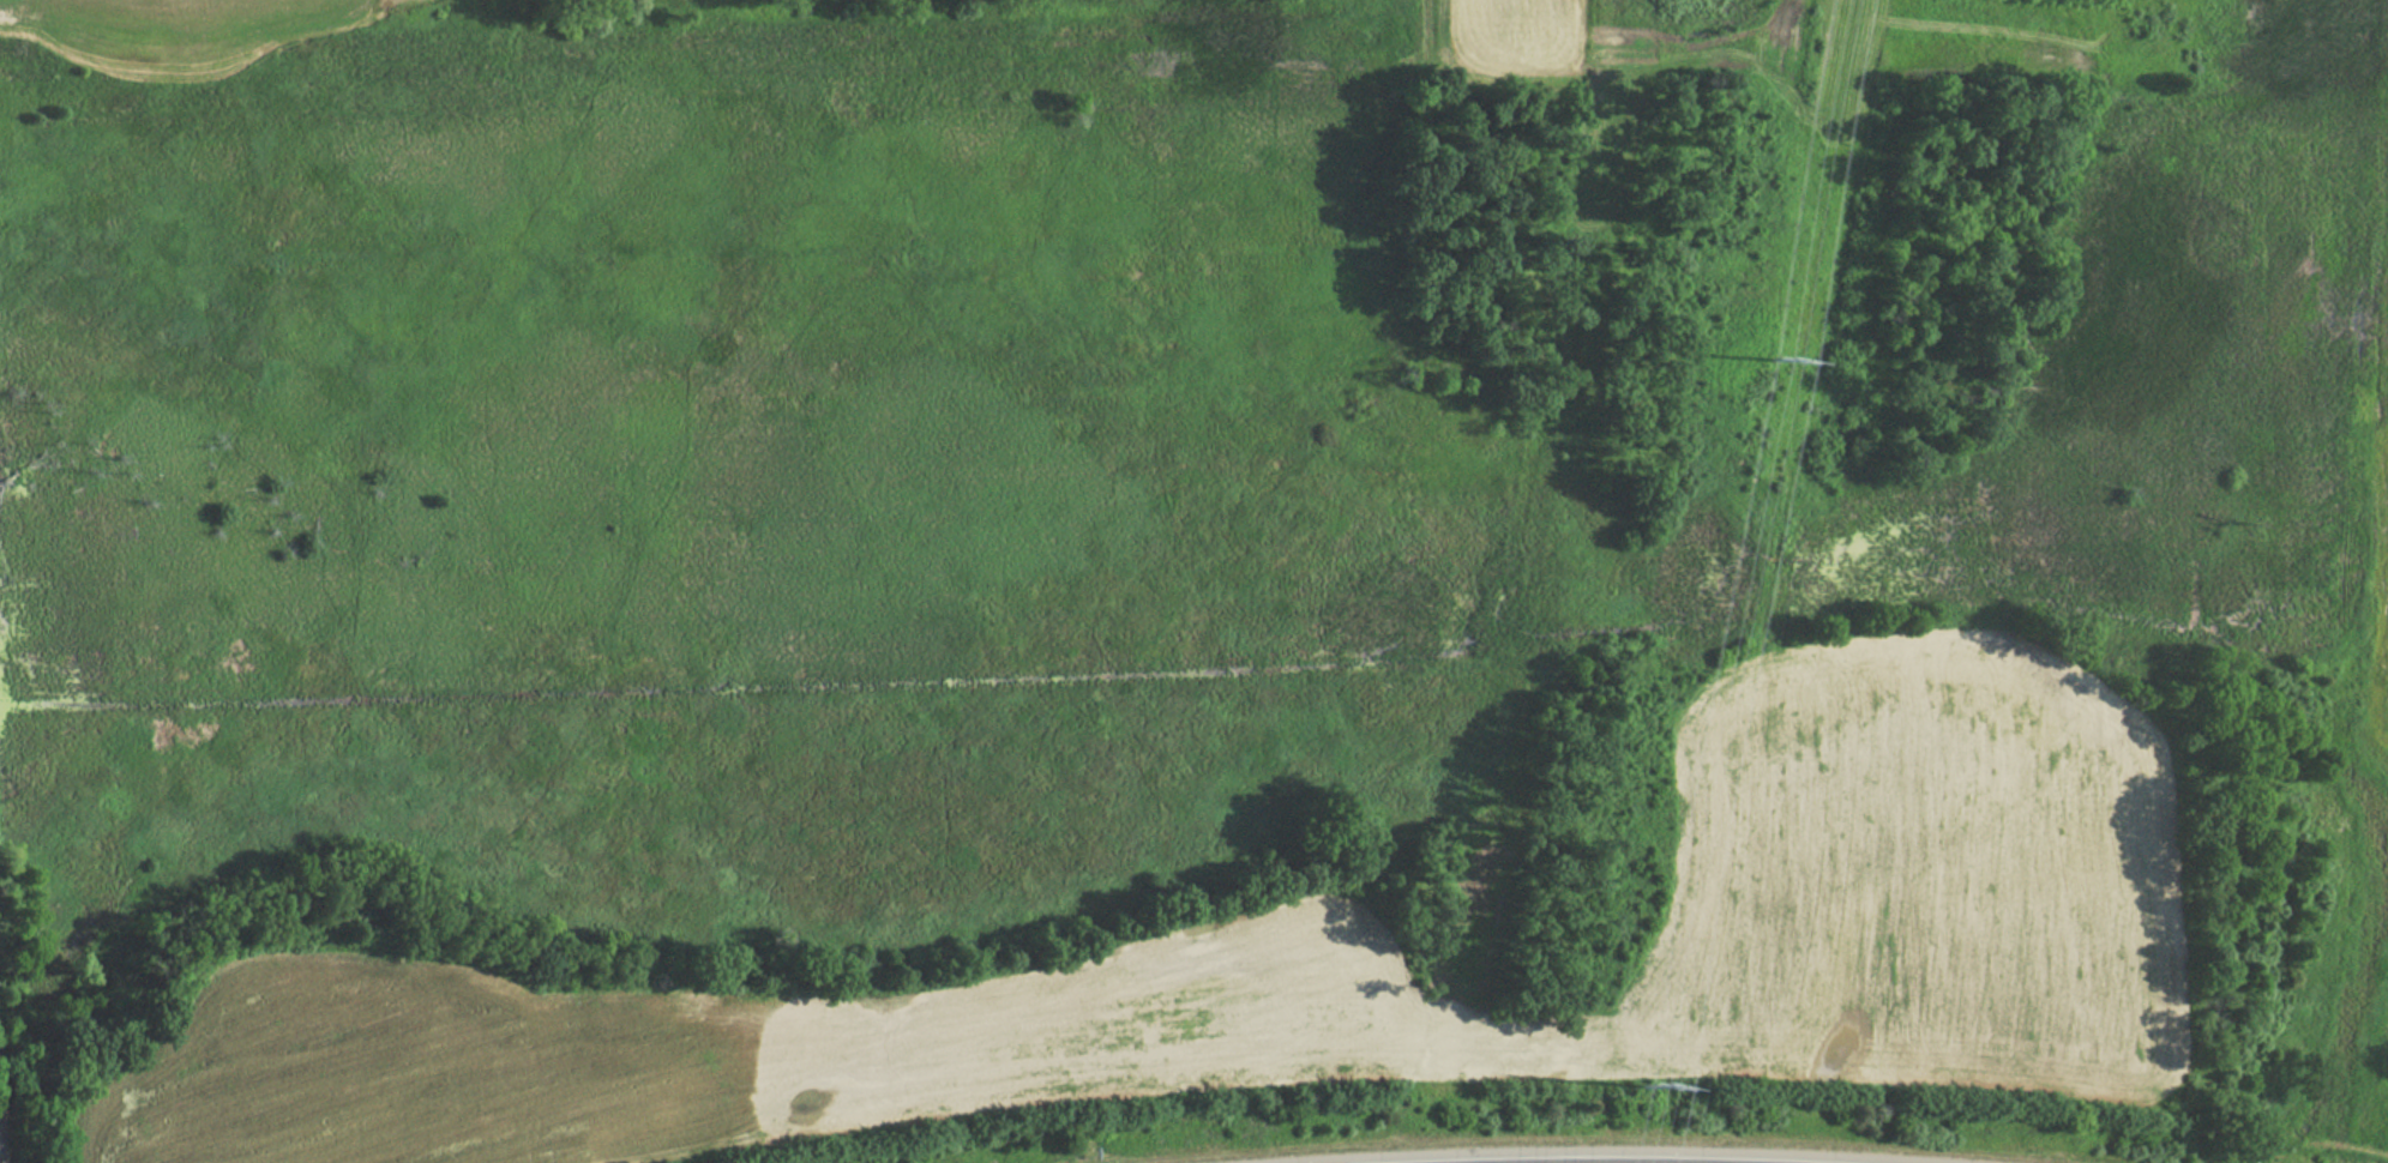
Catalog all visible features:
crop: (377, 0)
crop: (1511, 24)
power tower: (1776, 366)
crop: (1339, 960)
power tower: (1644, 1111)

